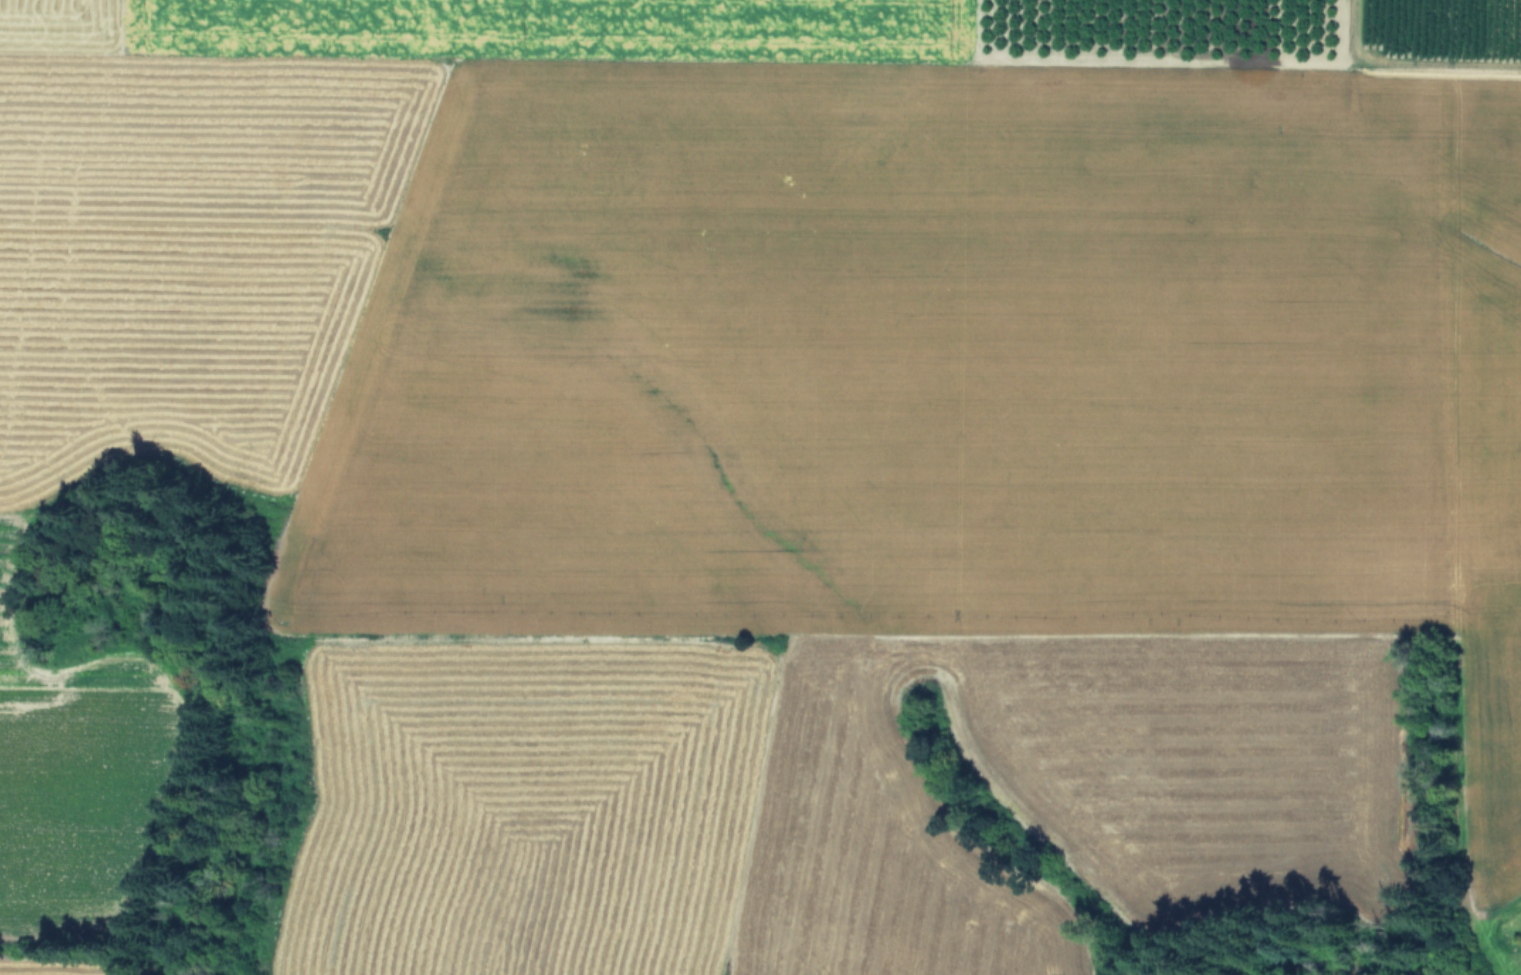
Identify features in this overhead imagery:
crop: (772, 468)

